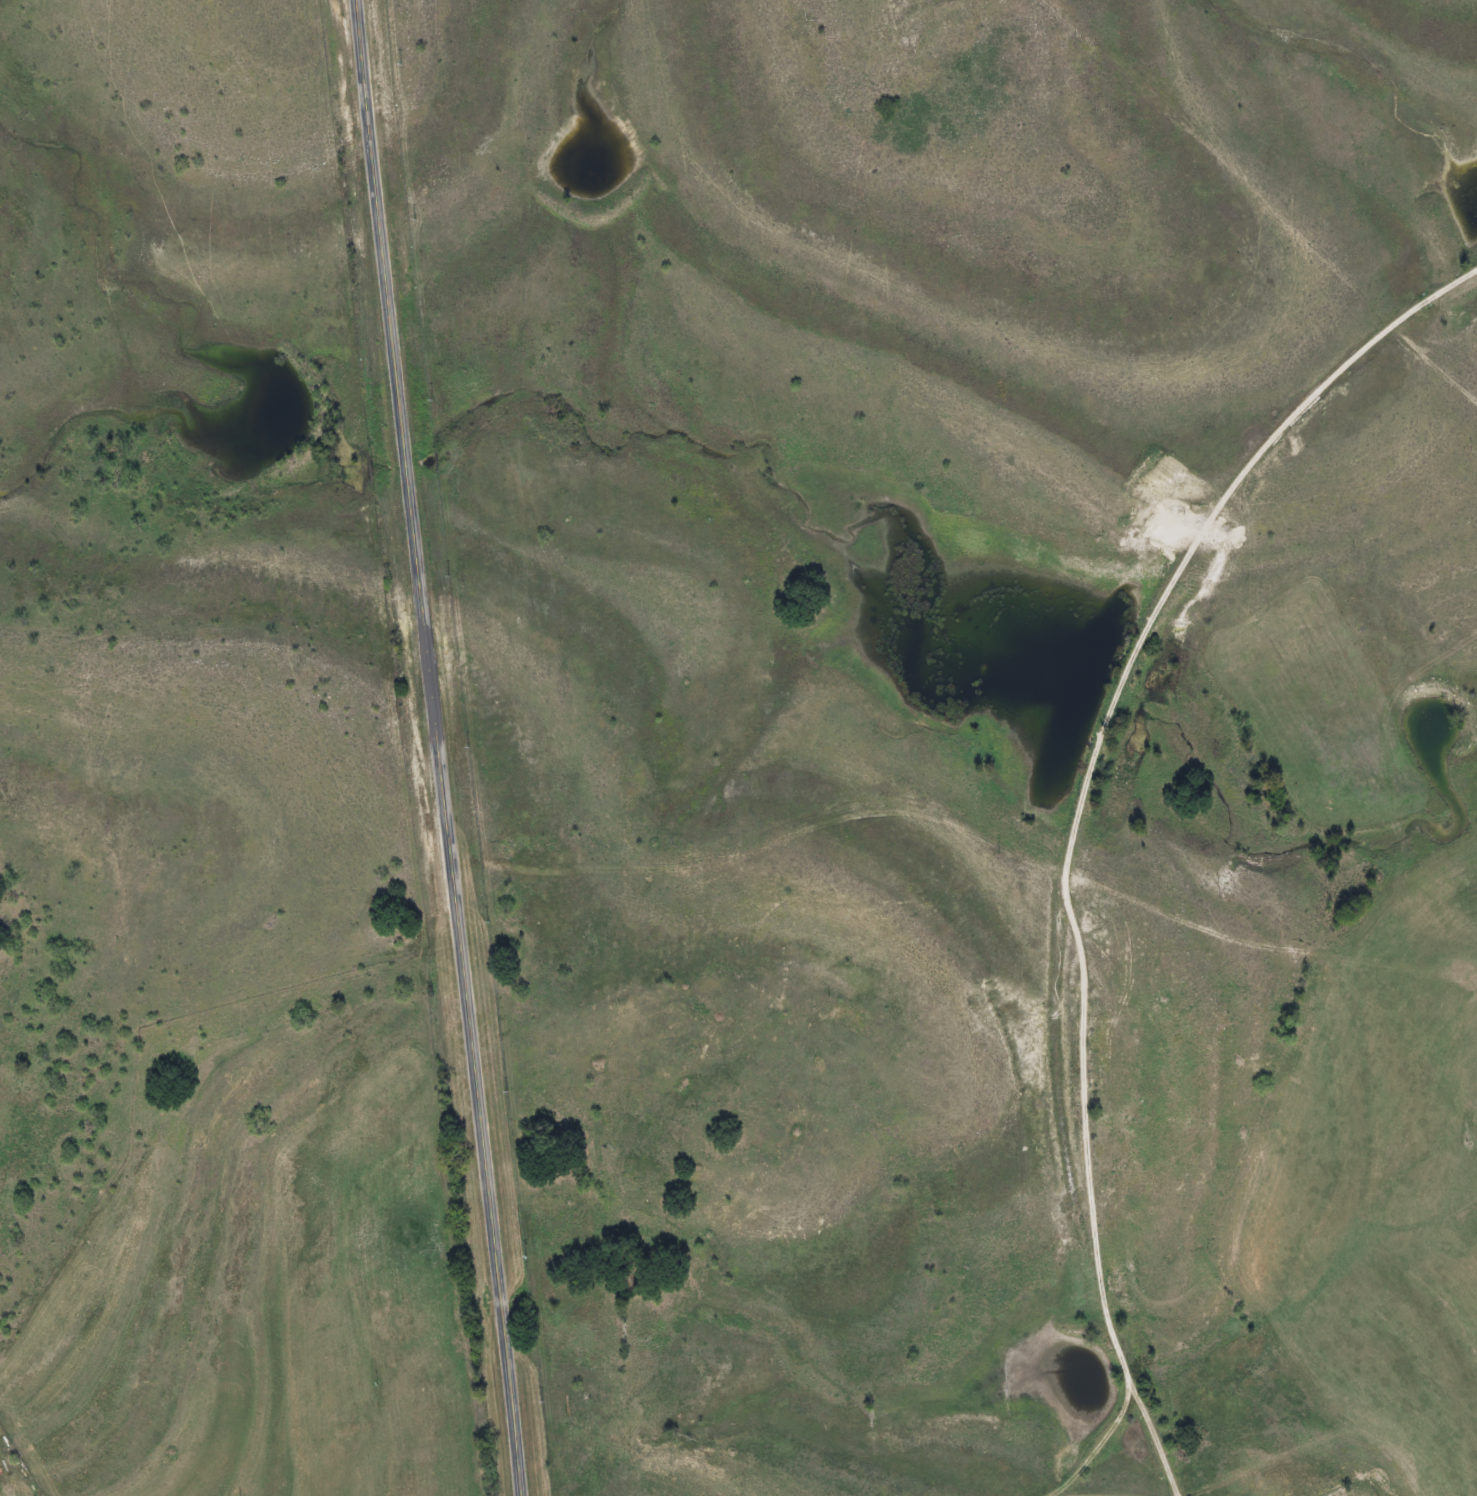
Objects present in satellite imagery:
road: (437, 748)
railway: (1059, 815)

